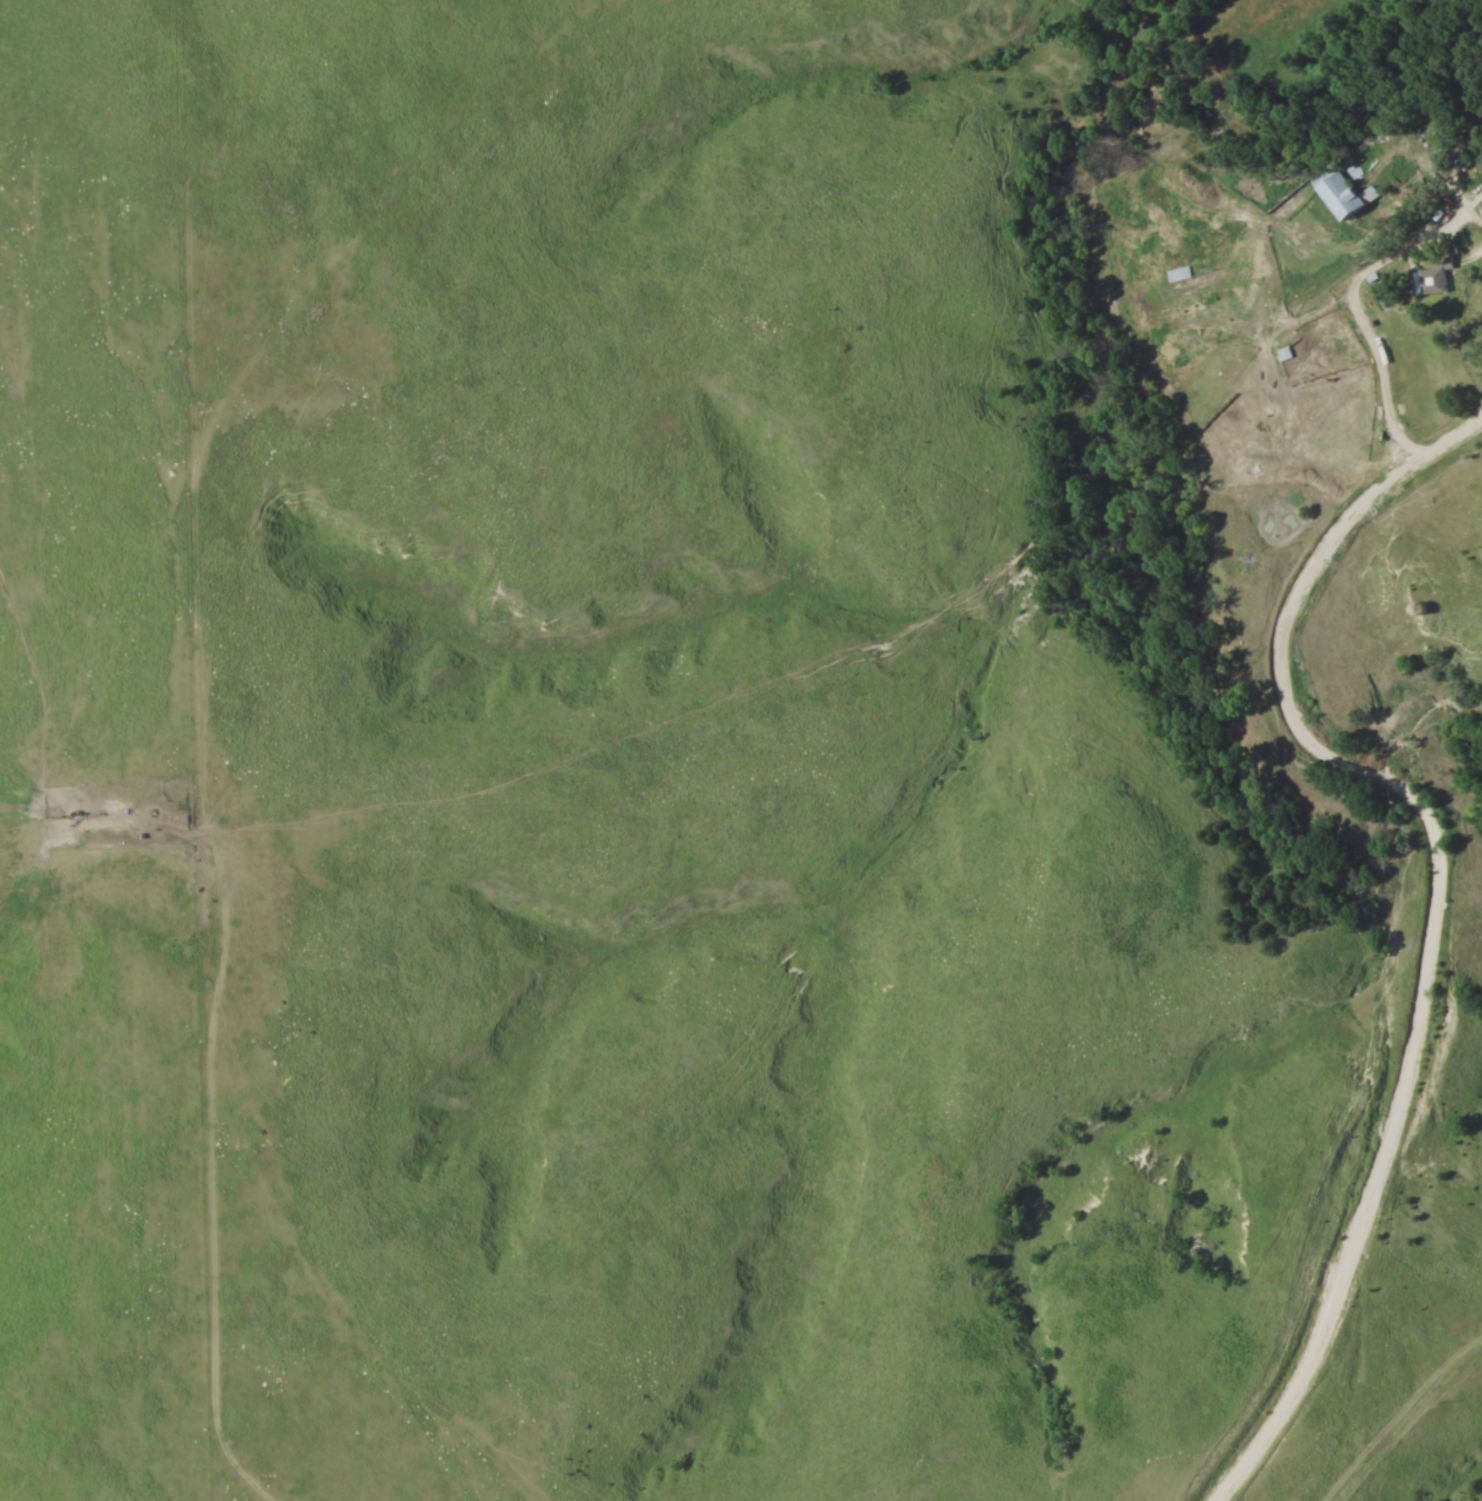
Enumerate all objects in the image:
building: (1346, 192)
building: (1181, 273)
building: (1436, 277)
building: (1286, 352)
road: (1389, 380)
road: (1438, 900)

